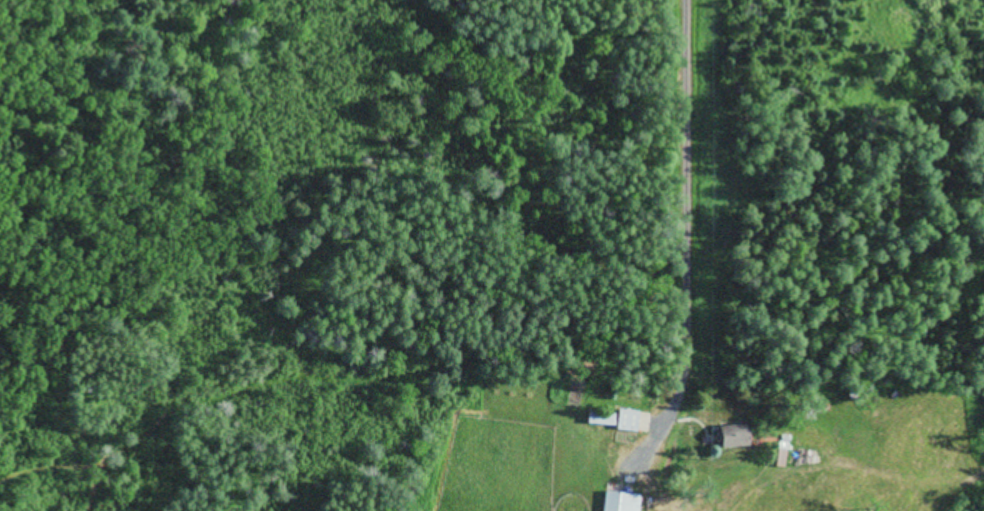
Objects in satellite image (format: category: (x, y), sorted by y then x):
road: (686, 179)
building: (608, 420)
building: (725, 438)
building: (616, 503)

